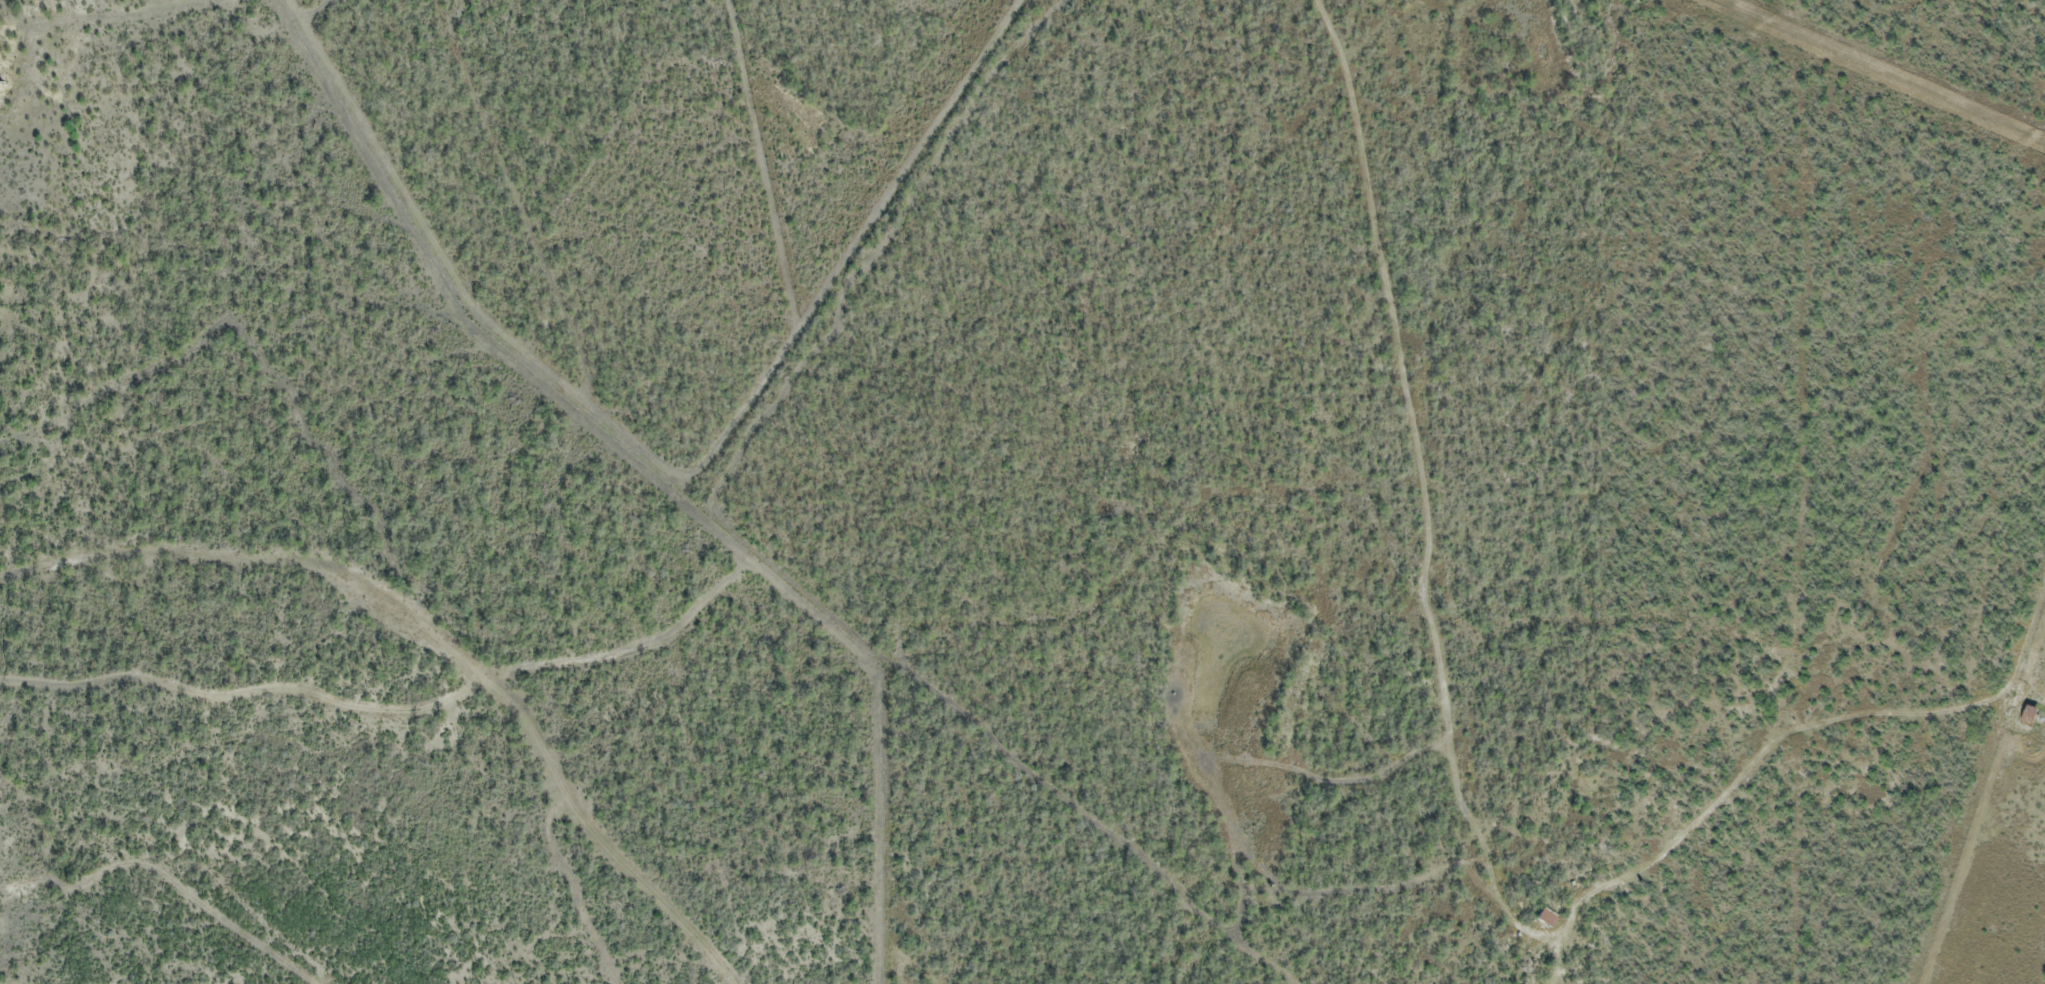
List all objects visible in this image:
building: (1547, 916)

